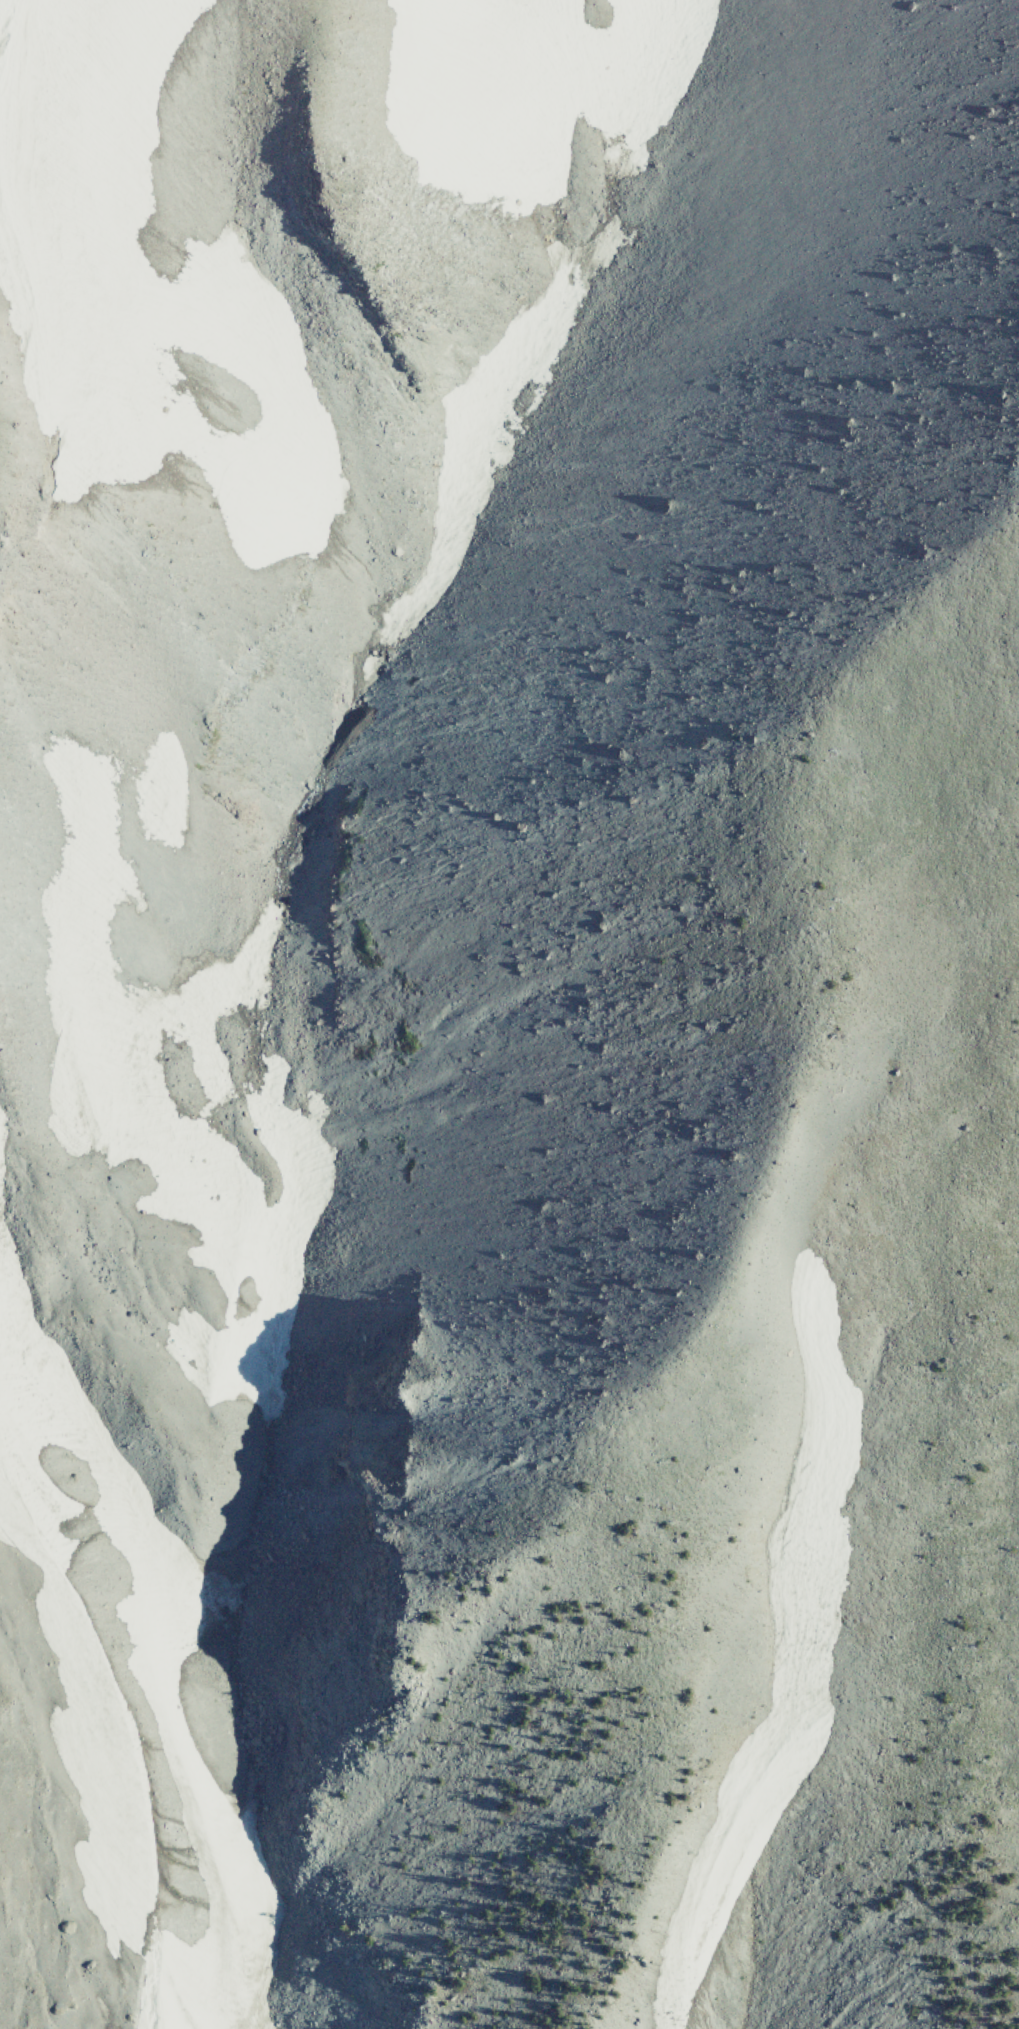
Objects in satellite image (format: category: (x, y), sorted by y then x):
ski resort: (1016, 1876)

